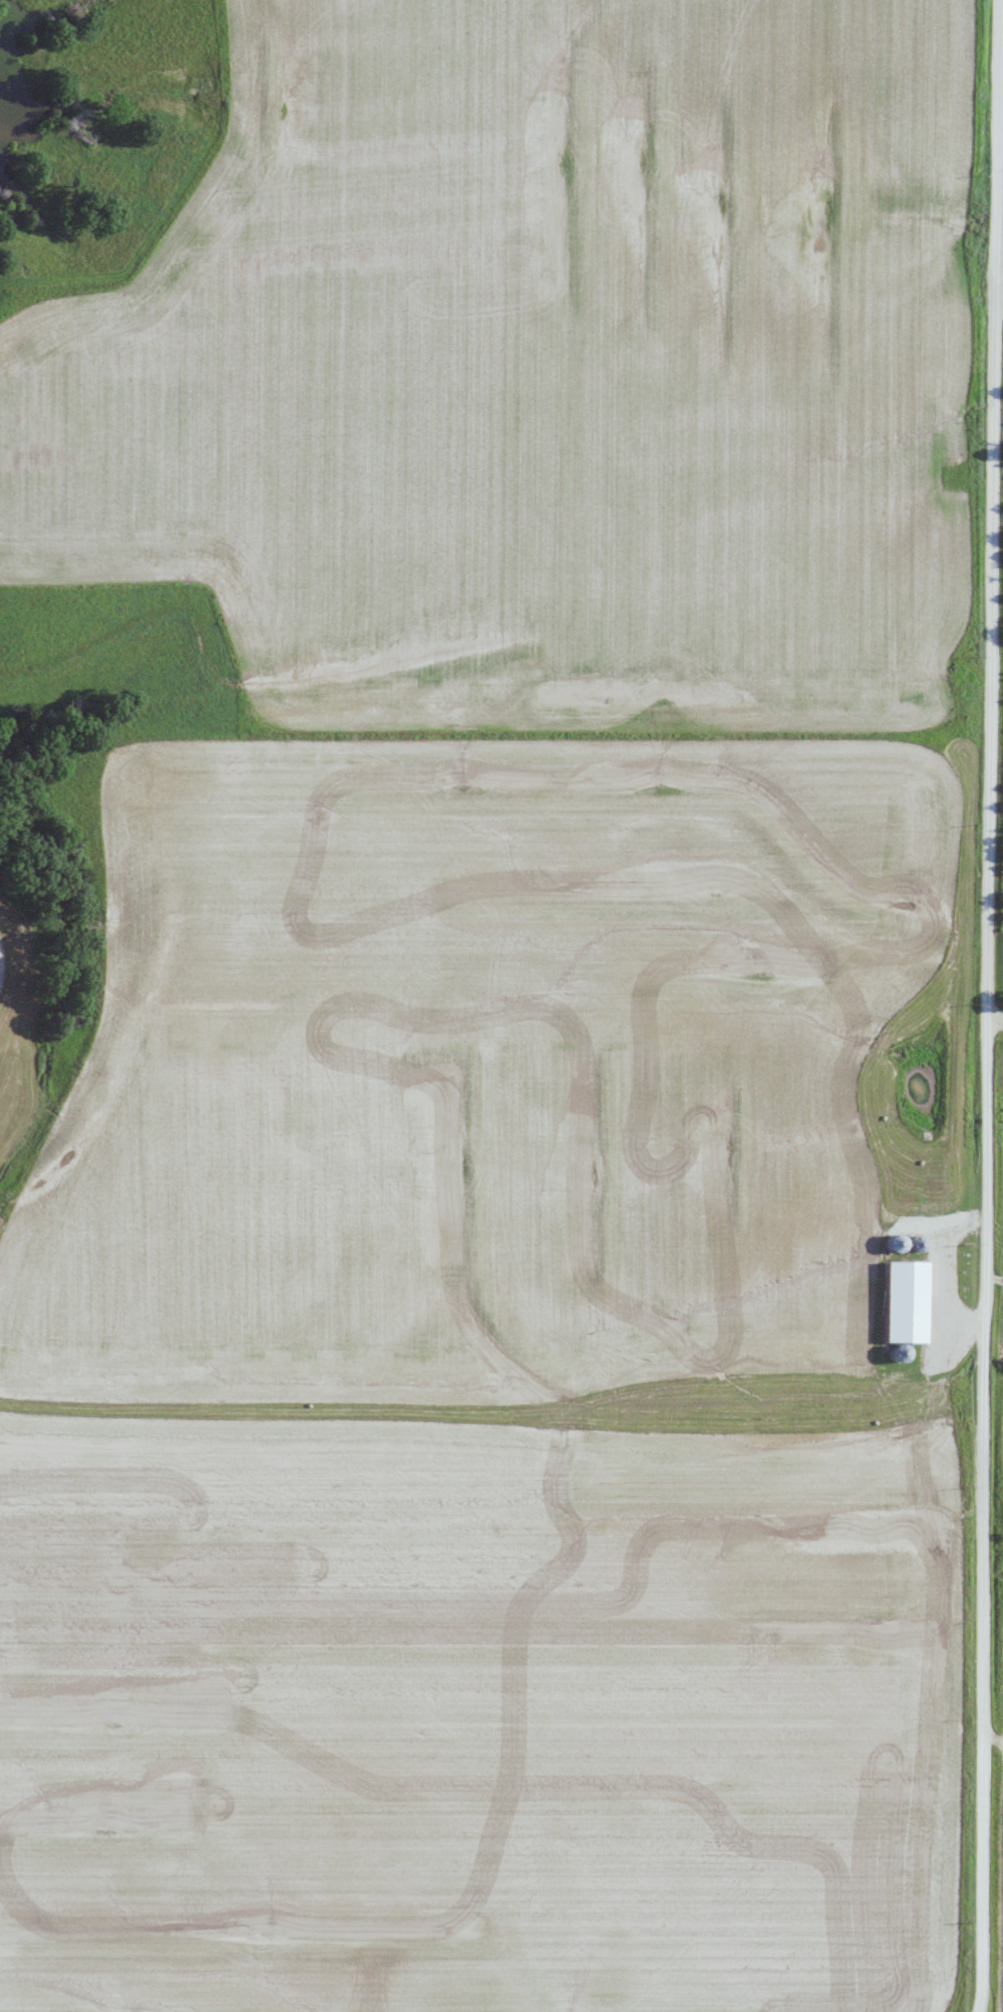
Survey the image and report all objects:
road: (986, 1006)
road: (994, 1023)
building: (904, 1302)

